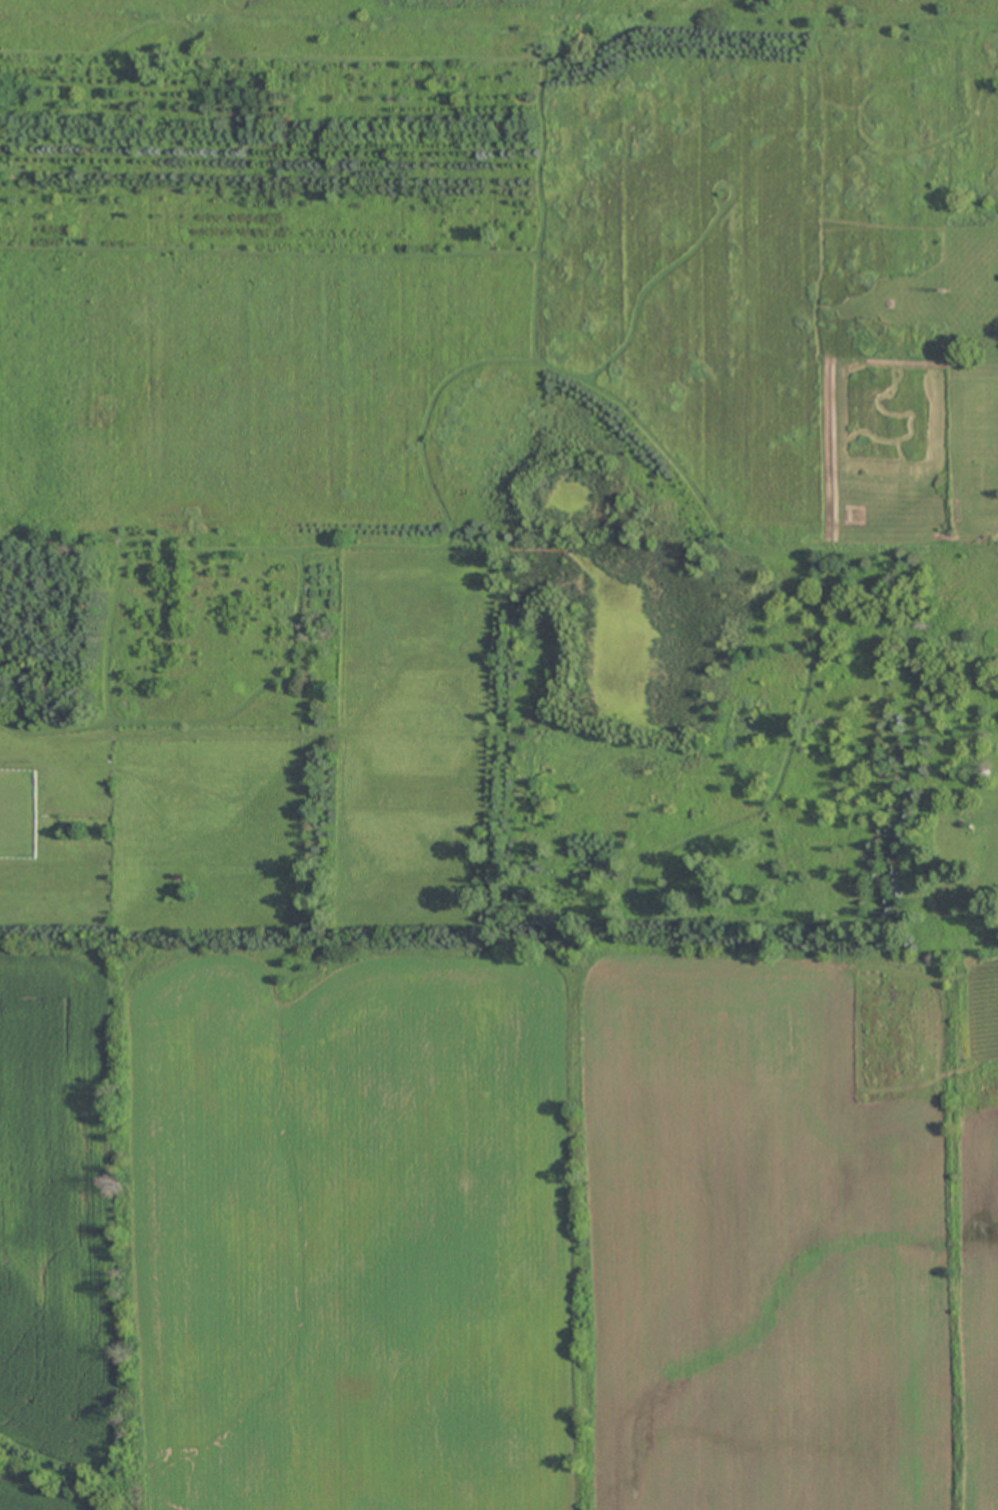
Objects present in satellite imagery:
crop: (497, 1229)

